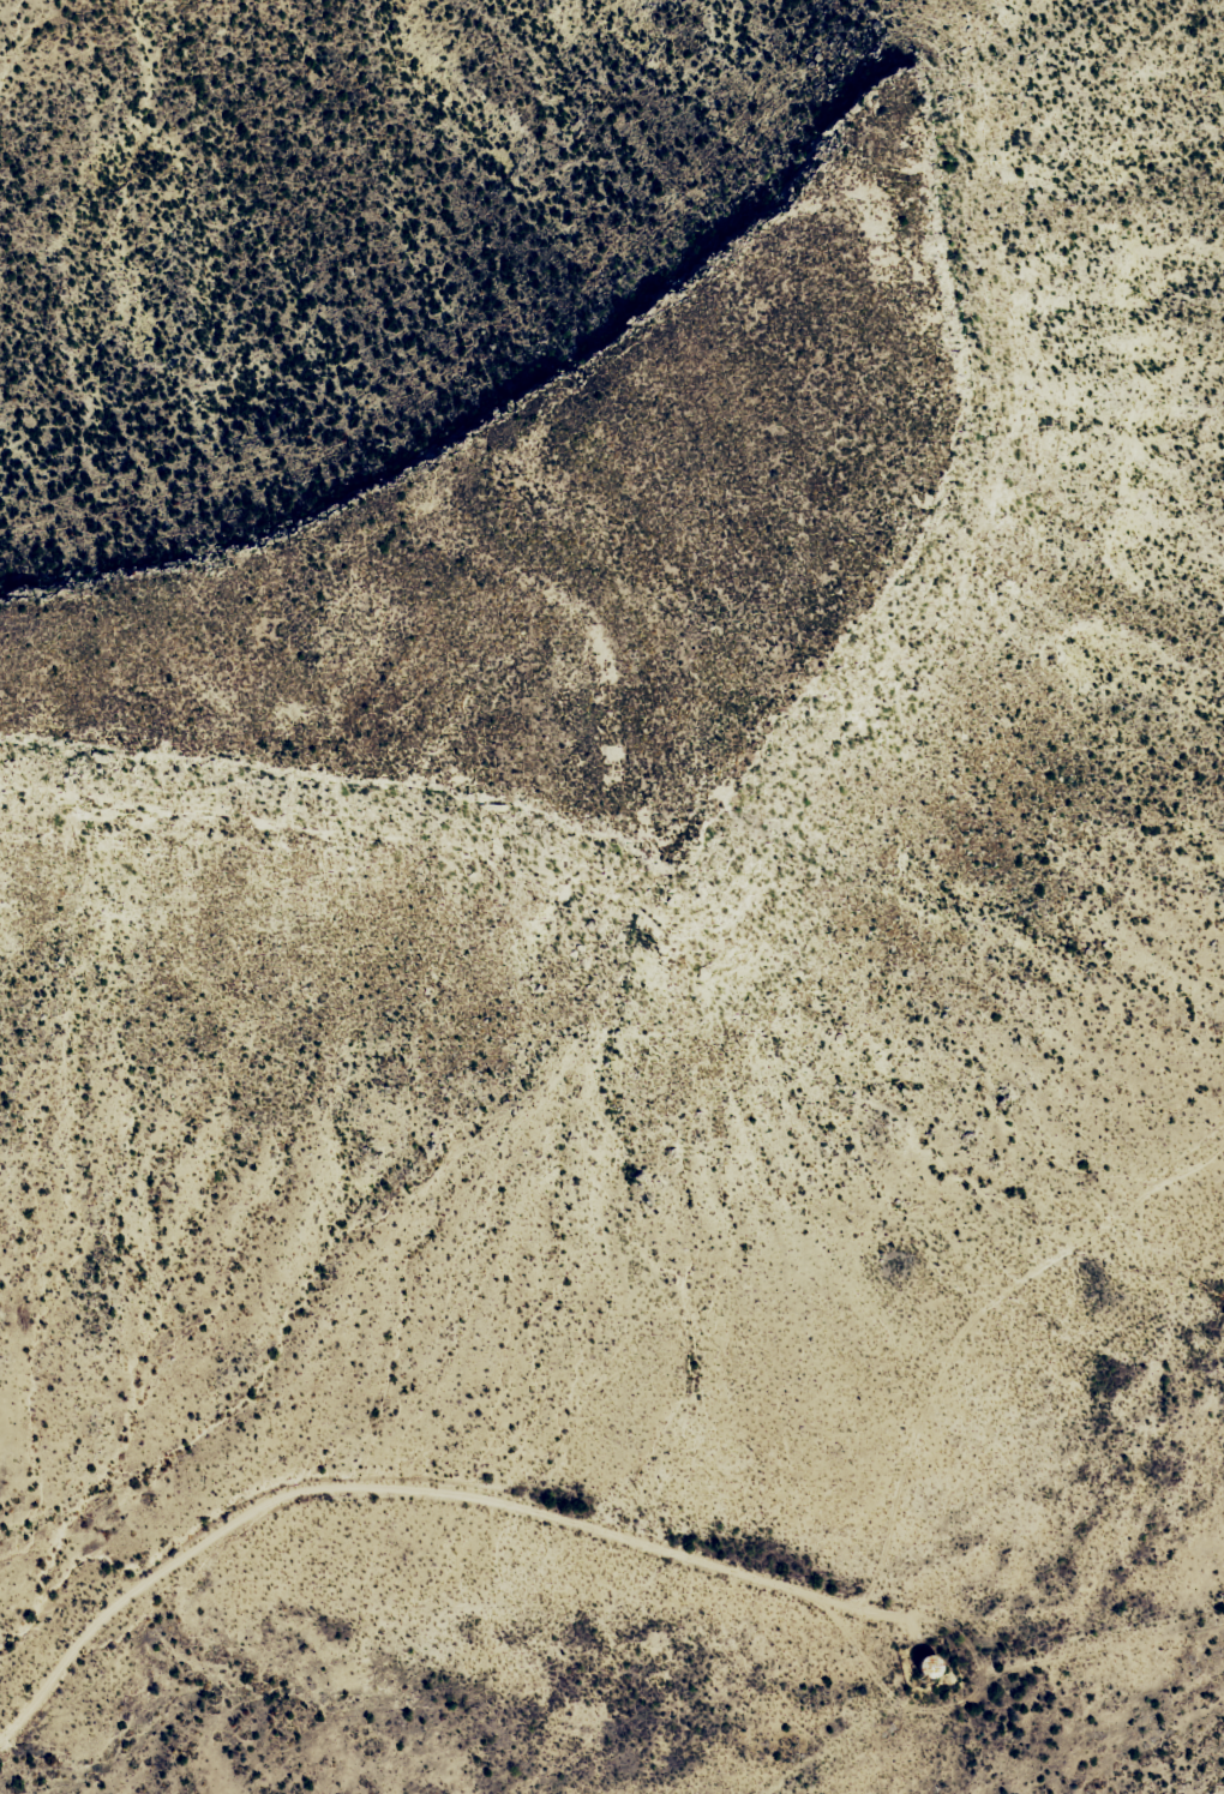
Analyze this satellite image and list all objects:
road: (366, 1488)

